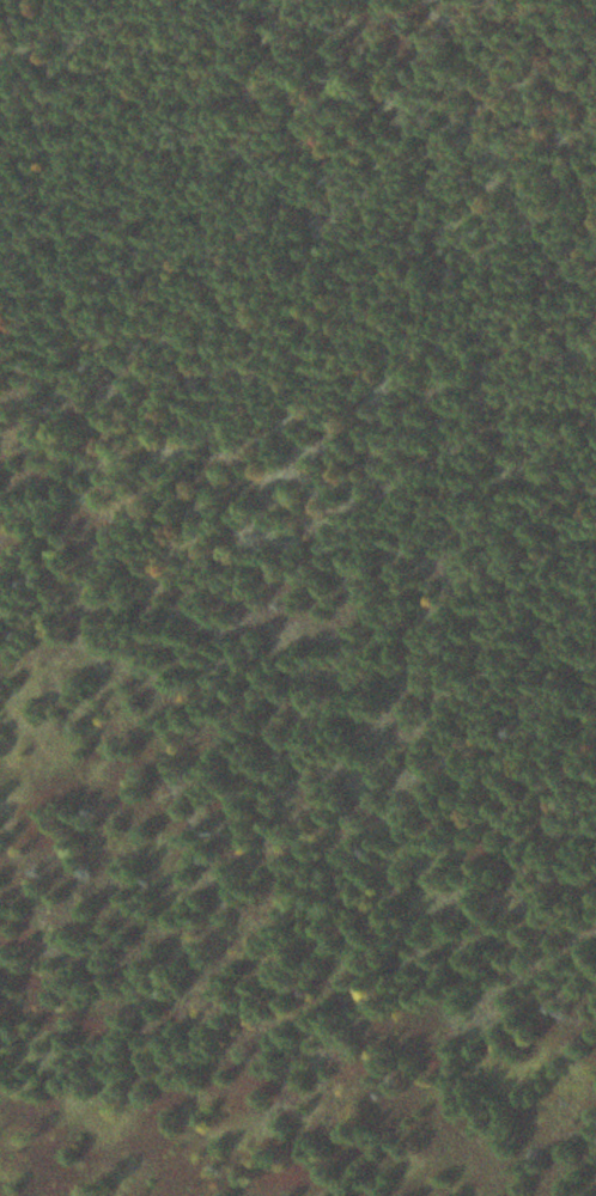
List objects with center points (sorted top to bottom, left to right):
road: (456, 1070)

